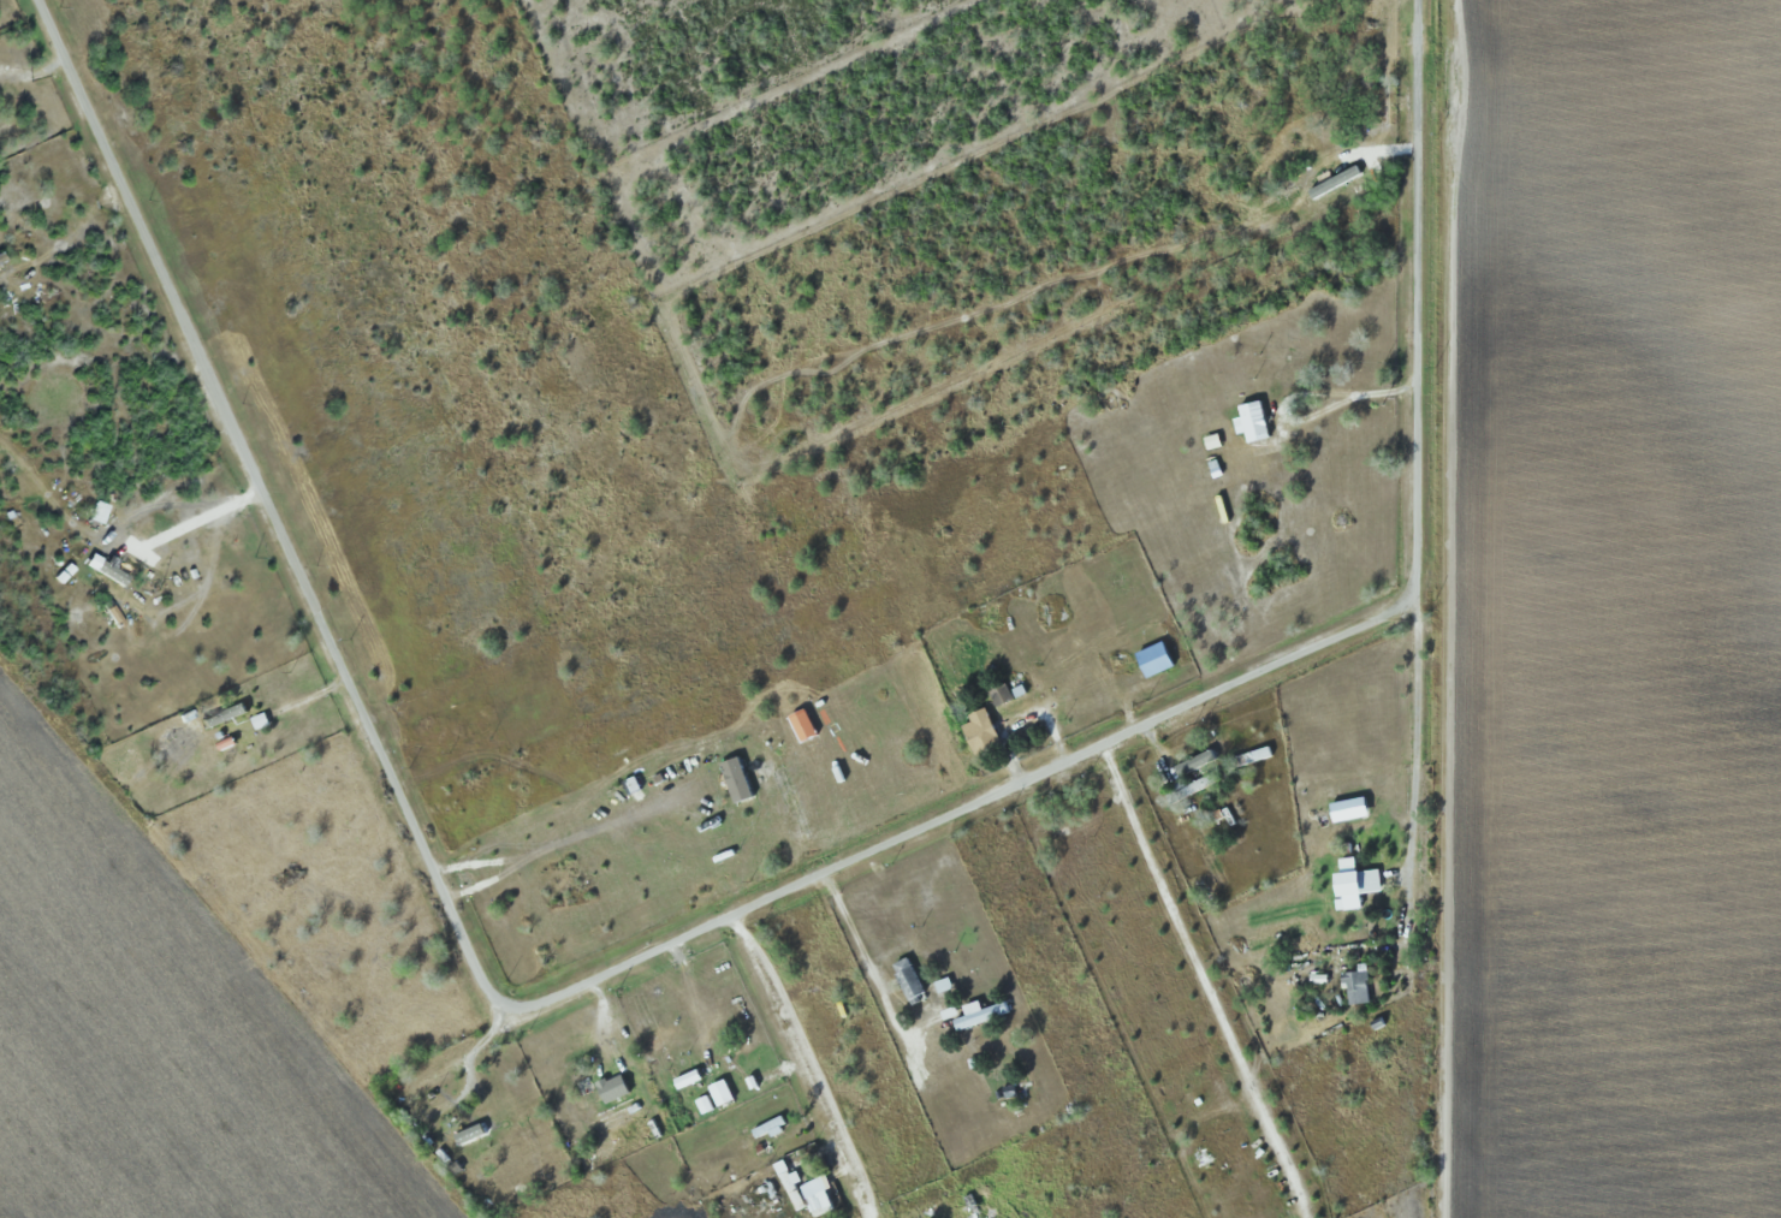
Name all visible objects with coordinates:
building: (2, 259)
road: (1417, 295)
building: (1257, 421)
road: (267, 505)
building: (1003, 695)
building: (231, 717)
road: (1414, 729)
building: (985, 733)
building: (1255, 756)
building: (1194, 786)
road: (962, 807)
building: (1352, 809)
building: (1361, 879)
building: (912, 981)
building: (1360, 987)
road: (806, 1063)
building: (616, 1087)
building: (476, 1134)
building: (795, 1190)
building: (974, 1207)

